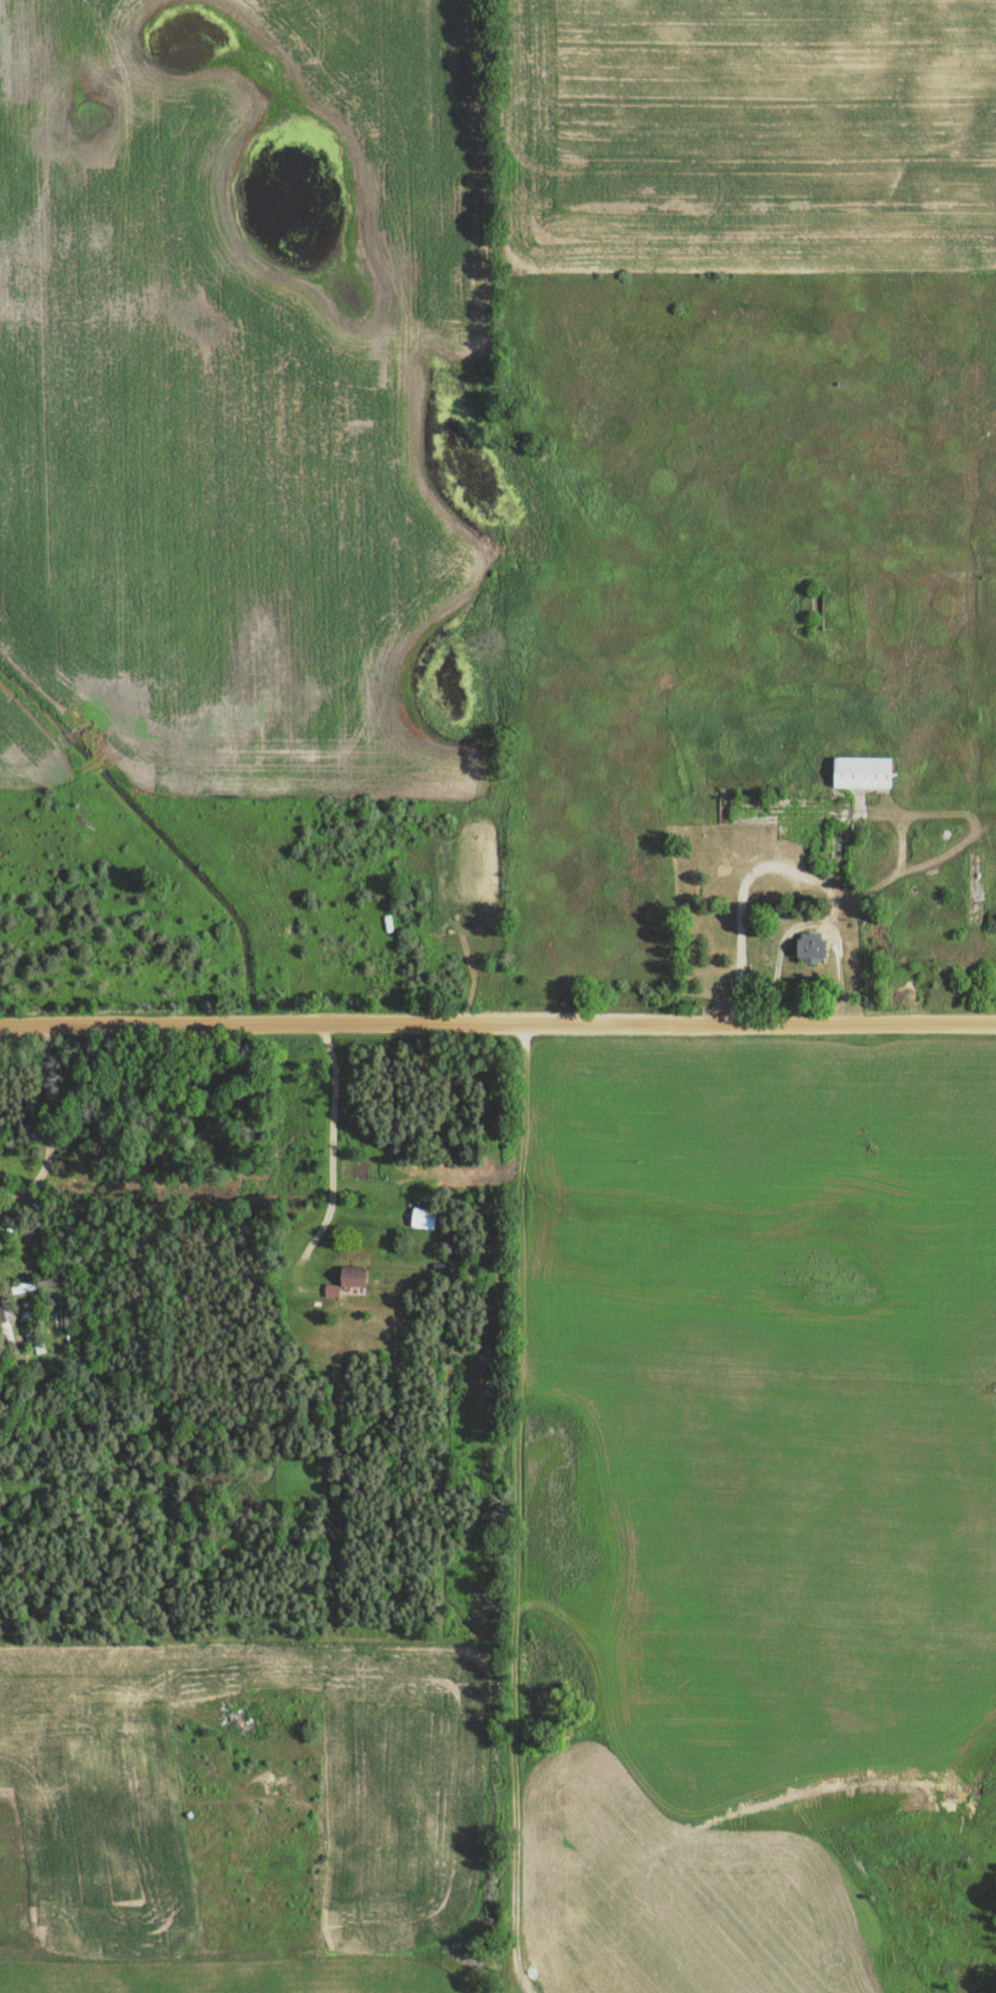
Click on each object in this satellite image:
building: (858, 775)
road: (830, 917)
building: (806, 949)
road: (498, 1025)
road: (322, 1149)
building: (420, 1220)
building: (348, 1283)
road: (518, 1509)

